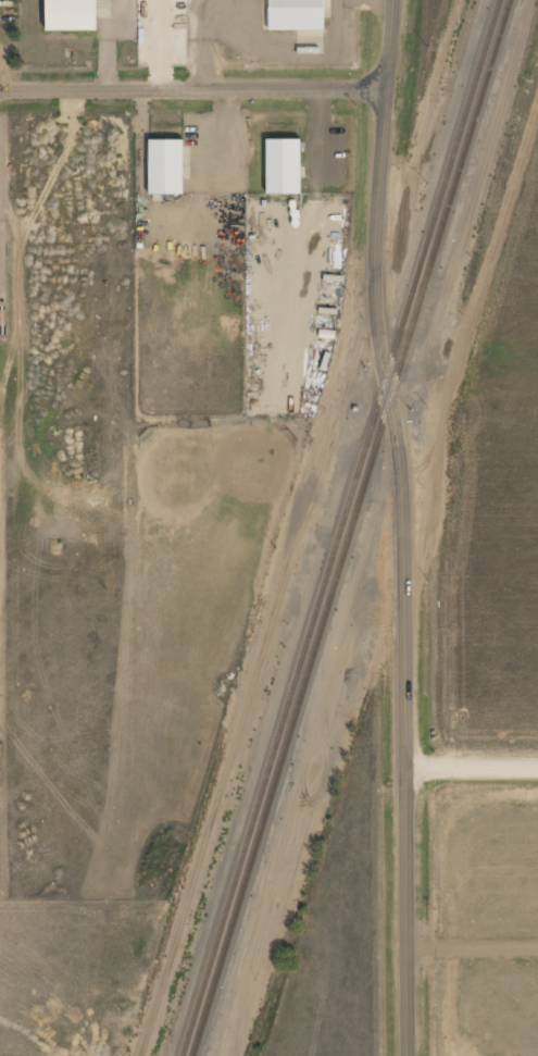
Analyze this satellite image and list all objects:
building: (71, 15)
building: (297, 15)
road: (193, 89)
building: (284, 166)
building: (166, 167)
road: (401, 526)
railway: (342, 527)
railway: (352, 527)
road: (472, 766)

